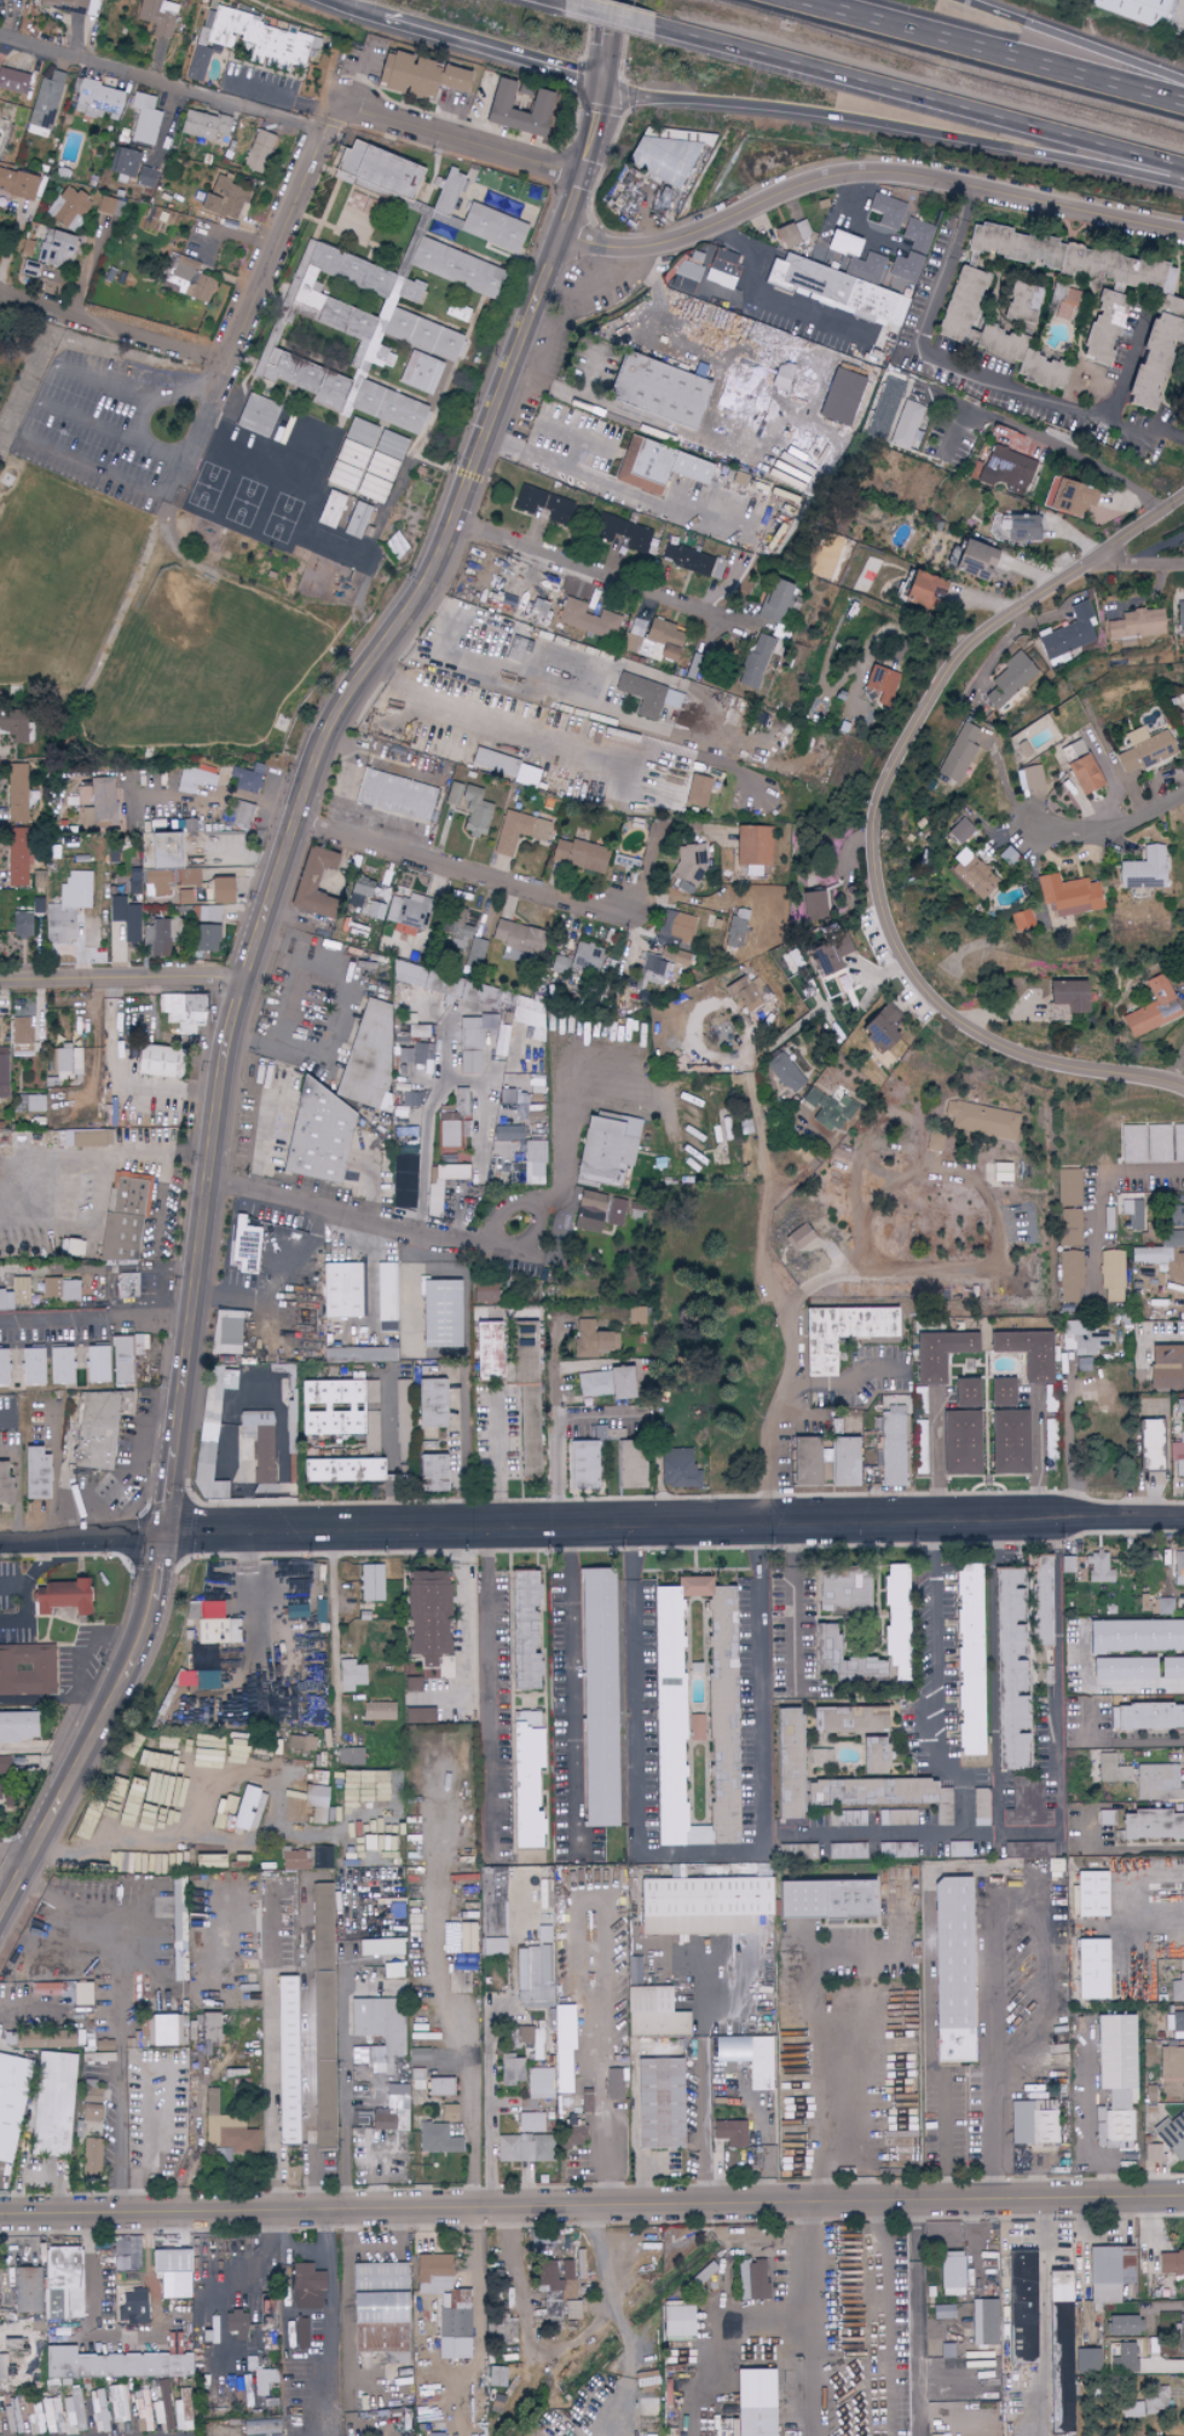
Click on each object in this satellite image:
road: (561, 0)
building: (75, 6)
road: (356, 8)
building: (1132, 10)
road: (608, 13)
building: (158, 16)
road: (1072, 39)
building: (249, 40)
road: (612, 44)
road: (495, 48)
road: (1004, 48)
road: (163, 76)
building: (416, 76)
building: (13, 81)
road: (278, 97)
road: (918, 97)
building: (97, 99)
building: (47, 102)
building: (497, 102)
building: (145, 120)
building: (203, 125)
building: (249, 126)
road: (894, 126)
road: (595, 129)
road: (457, 136)
building: (258, 151)
building: (658, 159)
building: (131, 167)
building: (377, 171)
building: (16, 184)
road: (971, 184)
building: (446, 194)
building: (226, 197)
road: (572, 200)
road: (293, 203)
building: (110, 207)
building: (70, 208)
building: (888, 212)
road: (855, 217)
building: (491, 228)
road: (231, 232)
building: (792, 234)
building: (919, 235)
road: (664, 238)
building: (842, 244)
building: (54, 246)
building: (30, 269)
building: (722, 269)
building: (907, 271)
building: (686, 277)
building: (194, 280)
building: (843, 286)
road: (8, 295)
building: (1022, 303)
building: (959, 304)
building: (1064, 304)
road: (768, 305)
road: (574, 309)
building: (381, 315)
road: (114, 326)
building: (1103, 327)
building: (1155, 349)
building: (1021, 357)
road: (1128, 359)
building: (792, 370)
road: (972, 370)
building: (420, 373)
building: (779, 378)
building: (307, 380)
road: (117, 384)
building: (655, 390)
building: (841, 397)
building: (885, 408)
road: (209, 414)
building: (256, 415)
road: (139, 417)
building: (907, 425)
road: (560, 427)
road: (27, 428)
road: (1049, 440)
building: (365, 461)
road: (566, 466)
building: (655, 467)
building: (1004, 468)
building: (1067, 496)
road: (651, 499)
building: (542, 503)
building: (329, 509)
building: (357, 520)
building: (1020, 528)
building: (623, 535)
building: (974, 560)
road: (1138, 560)
building: (693, 562)
road: (602, 570)
building: (922, 589)
building: (774, 603)
building: (1179, 617)
building: (589, 620)
building: (1137, 624)
building: (1068, 635)
building: (654, 641)
building: (518, 649)
road: (492, 670)
building: (1007, 683)
building: (883, 684)
building: (648, 696)
building: (1177, 702)
building: (15, 724)
road: (512, 726)
building: (1177, 726)
building: (1137, 750)
building: (958, 754)
building: (504, 767)
building: (1076, 770)
road: (351, 776)
building: (247, 777)
building: (196, 778)
building: (1026, 778)
building: (698, 791)
building: (17, 793)
road: (215, 794)
building: (395, 795)
building: (100, 804)
building: (469, 808)
building: (238, 814)
road: (884, 820)
building: (519, 831)
building: (955, 833)
road: (1115, 835)
building: (753, 848)
road: (285, 850)
building: (578, 856)
building: (158, 863)
building: (17, 864)
road: (458, 869)
building: (691, 869)
building: (1137, 871)
building: (968, 875)
building: (190, 876)
building: (307, 882)
building: (219, 891)
road: (669, 895)
building: (184, 897)
building: (1061, 897)
building: (365, 898)
building: (125, 904)
building: (813, 906)
building: (67, 909)
building: (409, 911)
building: (210, 914)
building: (1016, 921)
building: (22, 925)
building: (126, 926)
building: (457, 927)
building: (682, 927)
building: (737, 928)
building: (161, 939)
building: (204, 939)
building: (518, 939)
building: (475, 954)
building: (676, 956)
building: (579, 958)
building: (655, 971)
road: (122, 972)
building: (1067, 996)
road: (290, 1004)
building: (1154, 1008)
building: (181, 1010)
building: (531, 1021)
building: (879, 1029)
building: (416, 1031)
building: (22, 1036)
building: (468, 1044)
building: (369, 1053)
road: (312, 1055)
building: (403, 1055)
building: (157, 1060)
building: (69, 1061)
road: (1174, 1069)
building: (4, 1071)
building: (786, 1073)
road: (146, 1084)
building: (507, 1096)
building: (36, 1102)
building: (830, 1110)
road: (427, 1112)
building: (452, 1118)
building: (981, 1119)
road: (562, 1129)
building: (508, 1134)
building: (314, 1135)
building: (91, 1138)
building: (936, 1141)
building: (1132, 1144)
building: (1157, 1144)
building: (1178, 1144)
road: (262, 1145)
building: (605, 1147)
road: (131, 1153)
road: (932, 1154)
building: (532, 1162)
building: (451, 1171)
building: (1000, 1171)
building: (403, 1181)
building: (1068, 1187)
road: (1099, 1196)
building: (433, 1199)
road: (533, 1202)
road: (163, 1204)
building: (600, 1211)
road: (356, 1214)
building: (1174, 1215)
building: (123, 1217)
road: (762, 1221)
building: (1069, 1227)
building: (801, 1236)
building: (74, 1248)
road: (530, 1254)
building: (1165, 1255)
road: (48, 1268)
building: (1113, 1274)
building: (1070, 1277)
building: (126, 1285)
building: (58, 1289)
road: (281, 1289)
building: (341, 1290)
building: (19, 1291)
building: (483, 1292)
building: (386, 1296)
building: (5, 1298)
park: (700, 1312)
building: (438, 1313)
building: (635, 1315)
road: (94, 1318)
building: (227, 1332)
building: (838, 1332)
building: (1084, 1338)
building: (588, 1340)
building: (485, 1351)
building: (1027, 1352)
building: (937, 1353)
building: (135, 1354)
building: (121, 1360)
building: (94, 1364)
building: (1084, 1364)
building: (31, 1365)
building: (60, 1365)
building: (4, 1366)
road: (553, 1366)
building: (1178, 1366)
building: (255, 1376)
road: (849, 1380)
building: (220, 1381)
building: (606, 1383)
building: (371, 1392)
building: (403, 1392)
building: (965, 1392)
building: (1000, 1392)
building: (522, 1394)
road: (259, 1398)
building: (429, 1403)
building: (329, 1407)
road: (5, 1415)
road: (391, 1423)
building: (99, 1427)
road: (554, 1430)
road: (1072, 1439)
building: (1009, 1441)
building: (960, 1442)
building: (1179, 1442)
road: (140, 1445)
building: (1148, 1445)
building: (894, 1446)
road: (1036, 1446)
road: (463, 1447)
building: (259, 1450)
road: (937, 1456)
road: (497, 1457)
road: (774, 1458)
building: (626, 1461)
building: (803, 1461)
building: (842, 1461)
building: (579, 1464)
road: (54, 1468)
building: (677, 1468)
building: (248, 1469)
building: (339, 1470)
building: (33, 1473)
building: (207, 1473)
building: (428, 1473)
road: (18, 1485)
building: (4, 1486)
road: (393, 1504)
road: (86, 1505)
road: (135, 1519)
road: (789, 1525)
road: (163, 1531)
road: (278, 1534)
road: (81, 1536)
building: (1067, 1565)
building: (1097, 1568)
building: (1178, 1568)
building: (371, 1583)
road: (15, 1584)
road: (29, 1585)
building: (842, 1593)
building: (62, 1596)
building: (1050, 1599)
building: (1038, 1601)
building: (894, 1605)
building: (1163, 1606)
road: (334, 1607)
road: (795, 1608)
building: (424, 1614)
building: (212, 1624)
building: (521, 1630)
road: (93, 1636)
building: (1133, 1636)
road: (469, 1643)
building: (966, 1659)
building: (443, 1668)
building: (865, 1668)
building: (1169, 1668)
building: (204, 1669)
building: (1115, 1669)
building: (25, 1670)
building: (1007, 1670)
building: (352, 1675)
road: (1104, 1683)
building: (411, 1685)
road: (571, 1693)
road: (487, 1694)
building: (596, 1697)
road: (63, 1699)
building: (376, 1711)
building: (418, 1716)
building: (1148, 1717)
building: (666, 1720)
building: (847, 1720)
building: (16, 1726)
building: (695, 1728)
road: (98, 1730)
road: (1116, 1739)
building: (301, 1743)
road: (45, 1745)
building: (171, 1753)
building: (351, 1756)
building: (872, 1756)
building: (820, 1757)
building: (787, 1763)
building: (4, 1766)
building: (1111, 1769)
road: (945, 1770)
building: (1157, 1783)
building: (867, 1791)
building: (316, 1802)
building: (1028, 1806)
building: (943, 1807)
building: (247, 1809)
building: (1107, 1818)
building: (845, 1819)
building: (1151, 1825)
road: (1028, 1833)
road: (131, 1839)
road: (1119, 1847)
building: (614, 1848)
road: (699, 1849)
building: (959, 1849)
building: (1028, 1849)
building: (842, 1850)
building: (797, 1852)
building: (320, 1858)
building: (294, 1860)
building: (238, 1861)
road: (11, 1864)
building: (1055, 1865)
road: (1130, 1893)
building: (1090, 1894)
building: (821, 1899)
building: (700, 1905)
building: (491, 1911)
building: (320, 1935)
building: (467, 1937)
building: (374, 1958)
building: (1090, 1969)
building: (635, 1970)
building: (948, 1970)
building: (535, 1976)
building: (46, 1988)
building: (1177, 1989)
building: (81, 1993)
road: (36, 2000)
road: (438, 2000)
building: (652, 2012)
road: (116, 2014)
building: (562, 2027)
building: (381, 2028)
building: (164, 2031)
road: (813, 2037)
building: (526, 2038)
building: (42, 2040)
road: (490, 2043)
building: (730, 2049)
road: (997, 2051)
building: (98, 2052)
road: (272, 2057)
building: (283, 2060)
building: (761, 2063)
building: (1171, 2063)
building: (512, 2069)
building: (561, 2071)
building: (1114, 2071)
road: (704, 2077)
building: (541, 2083)
building: (440, 2086)
building: (88, 2101)
building: (212, 2101)
building: (10, 2102)
building: (658, 2103)
building: (51, 2104)
building: (447, 2113)
building: (323, 2117)
building: (388, 2120)
building: (531, 2123)
road: (763, 2123)
building: (1033, 2123)
road: (1087, 2123)
building: (1099, 2127)
building: (730, 2133)
building: (231, 2135)
building: (1173, 2135)
road: (947, 2137)
building: (437, 2138)
road: (600, 2140)
building: (525, 2148)
building: (1153, 2153)
building: (89, 2156)
road: (320, 2182)
road: (591, 2208)
road: (1151, 2247)
road: (1082, 2251)
building: (127, 2253)
road: (513, 2254)
building: (1171, 2264)
building: (171, 2270)
road: (249, 2271)
road: (94, 2273)
building: (1108, 2273)
building: (952, 2274)
building: (753, 2280)
building: (62, 2282)
building: (306, 2287)
building: (556, 2288)
building: (28, 2290)
building: (445, 2305)
building: (1022, 2307)
building: (132, 2309)
building: (377, 2310)
road: (1045, 2319)
road: (880, 2320)
road: (619, 2321)
building: (677, 2321)
road: (807, 2321)
building: (983, 2322)
road: (331, 2325)
building: (1121, 2326)
building: (938, 2328)
building: (298, 2333)
building: (1176, 2338)
road: (720, 2342)
building: (1062, 2353)
building: (1125, 2359)
building: (1088, 2361)
building: (70, 2363)
building: (6, 2369)
building: (496, 2377)
building: (266, 2380)
building: (244, 2390)
building: (1142, 2402)
building: (752, 2403)
building: (99, 2411)
building: (35, 2418)
building: (261, 2428)

